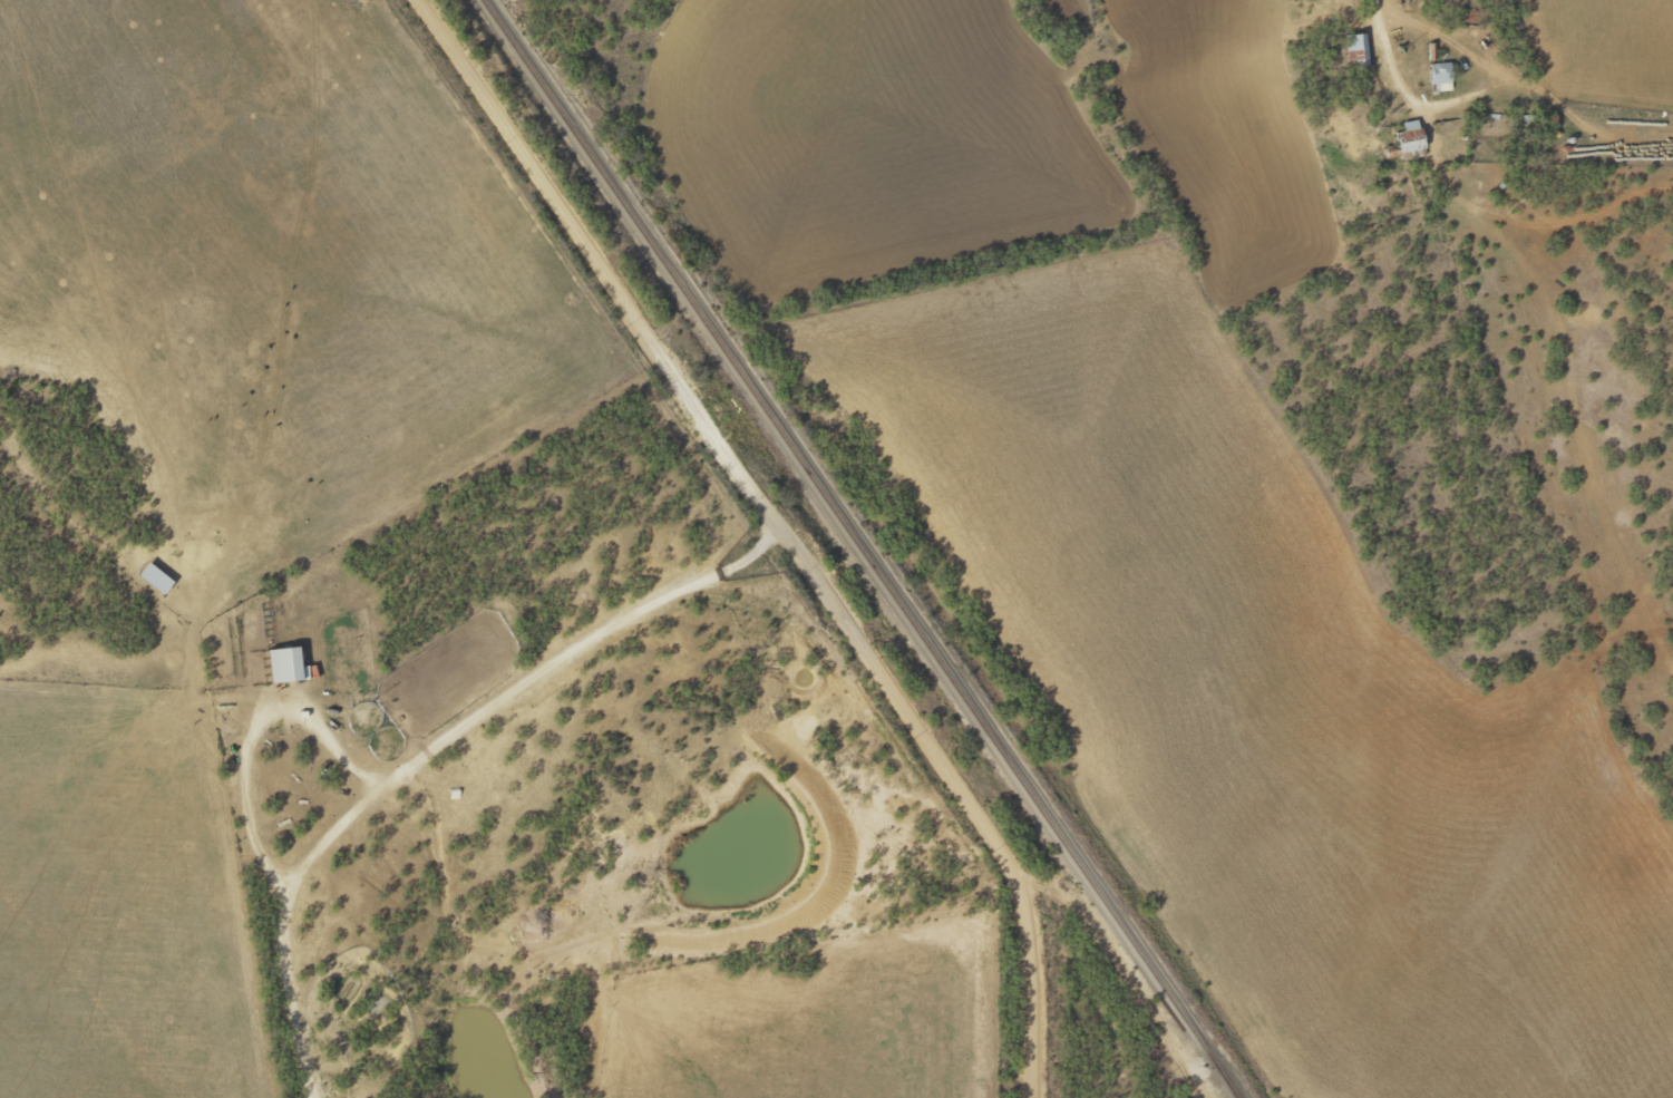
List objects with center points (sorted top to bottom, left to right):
building: (1352, 50)
building: (1436, 76)
building: (1404, 135)
road: (1568, 311)
railway: (856, 540)
road: (749, 544)
building: (279, 663)
railway: (1229, 1090)
railway: (1231, 1090)

